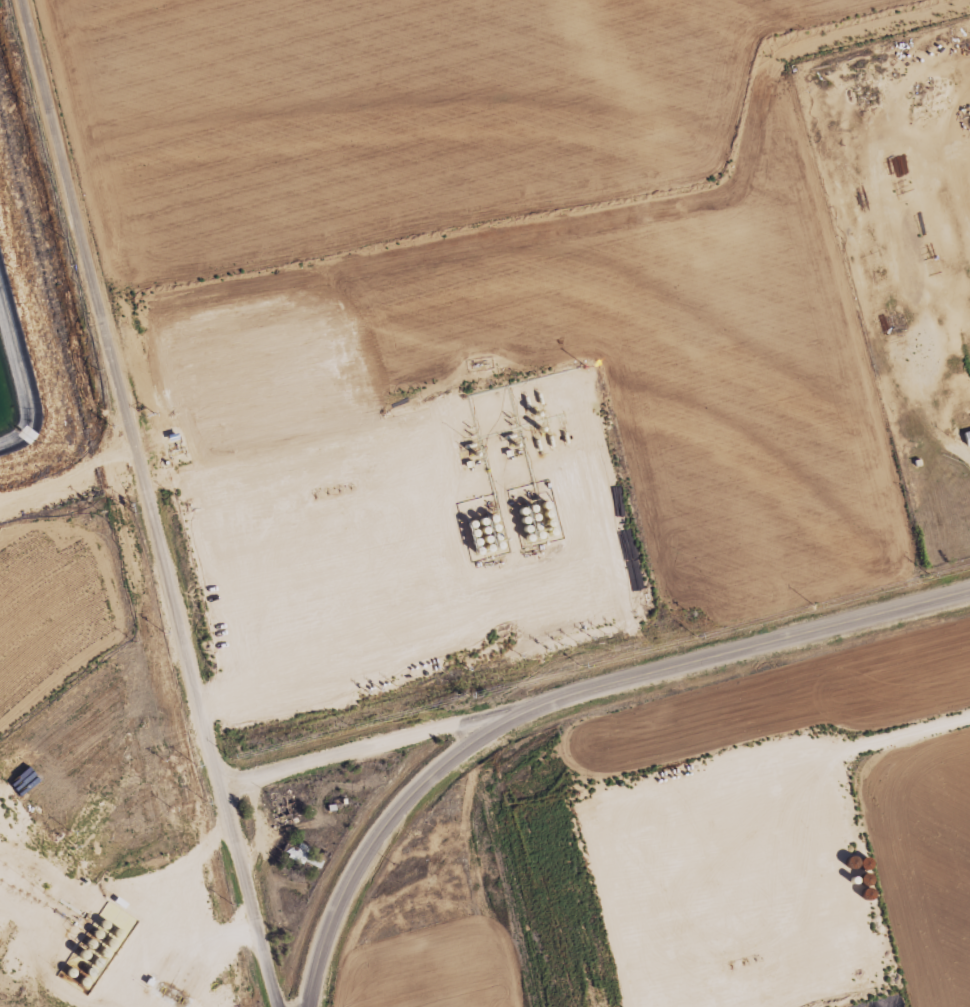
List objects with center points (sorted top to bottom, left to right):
road: (118, 389)
building: (966, 436)
road: (560, 695)
road: (362, 742)
building: (282, 807)
building: (439, 824)
building: (301, 855)
road: (246, 892)

